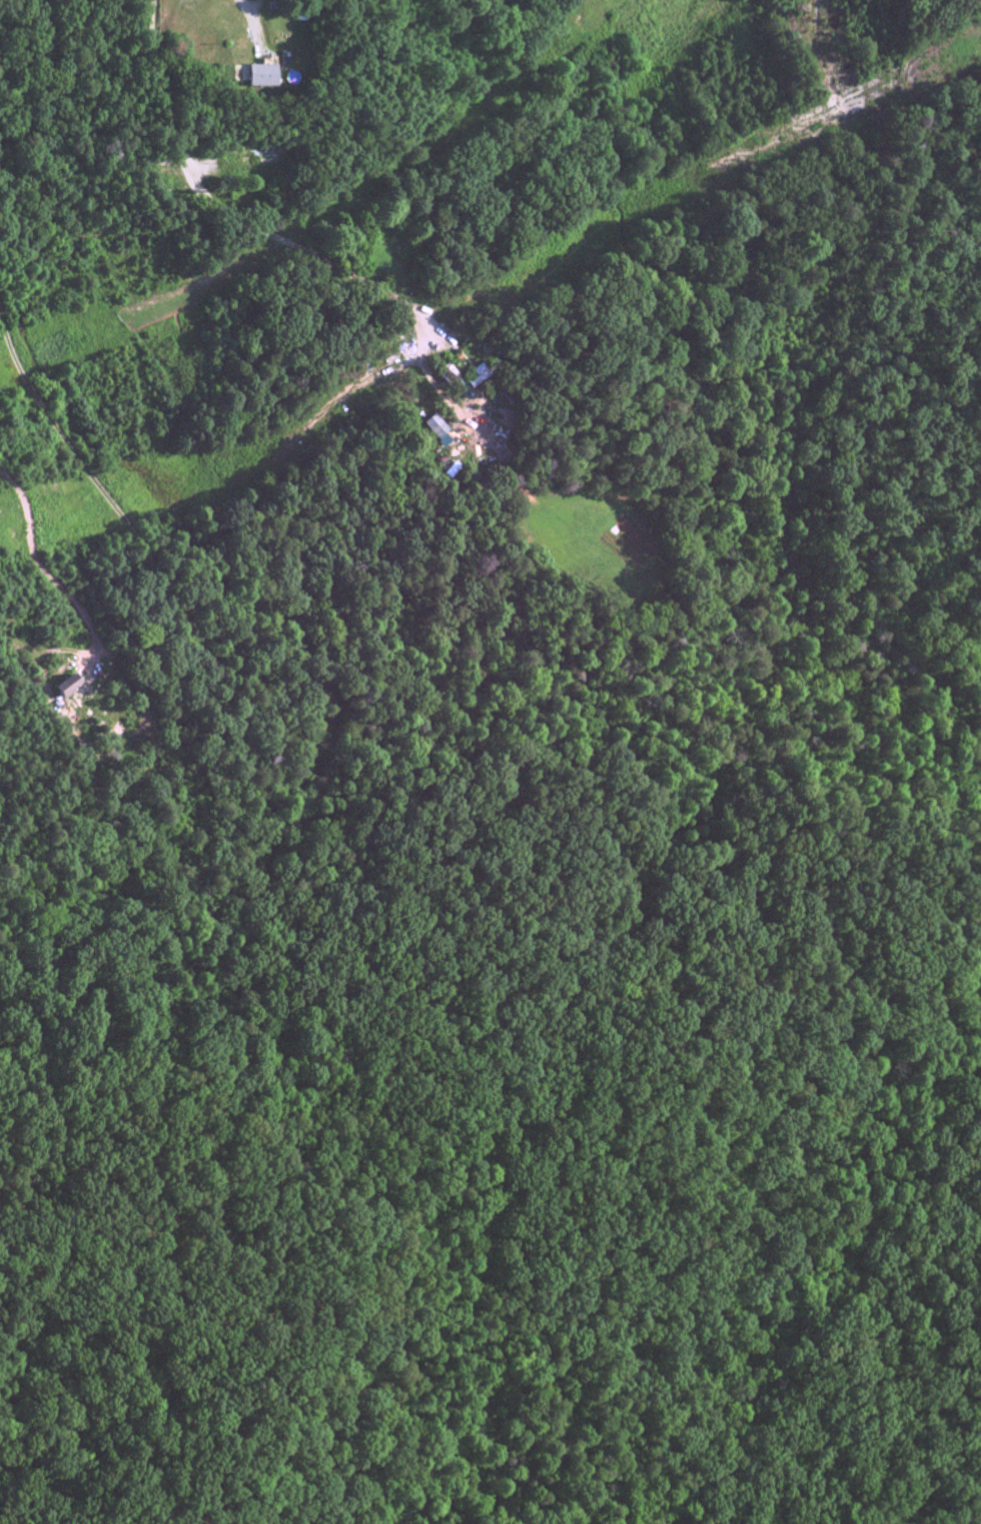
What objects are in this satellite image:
building: (260, 79)
road: (231, 212)
building: (438, 428)
road: (43, 568)
building: (62, 689)

